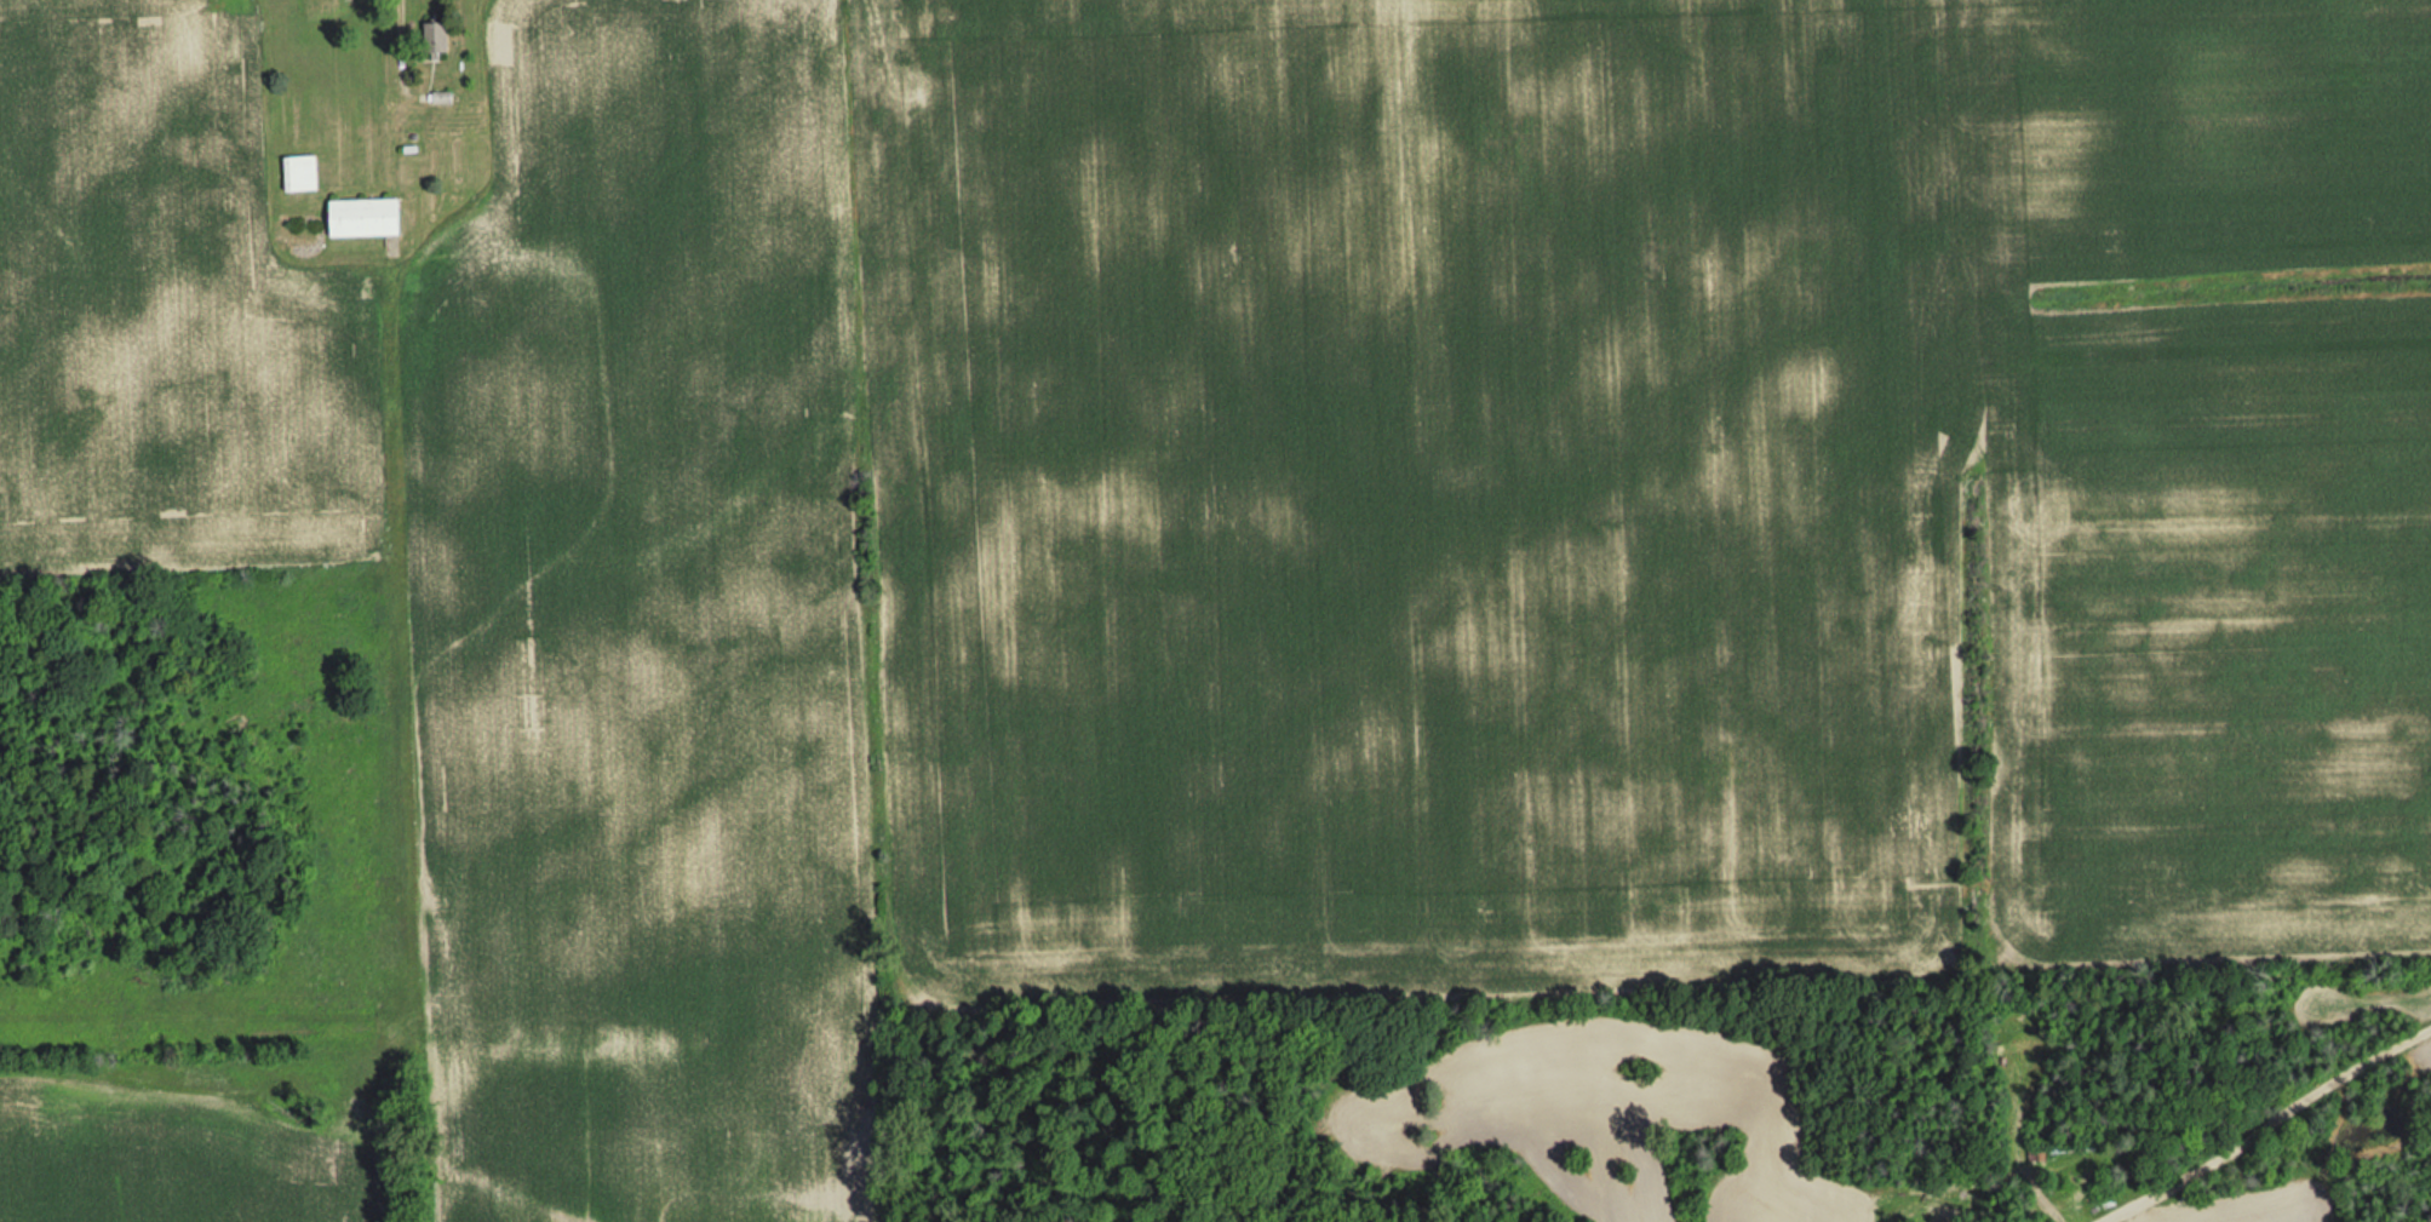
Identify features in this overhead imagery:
building: (437, 40)
building: (304, 173)
building: (368, 218)
building: (2074, 1146)

